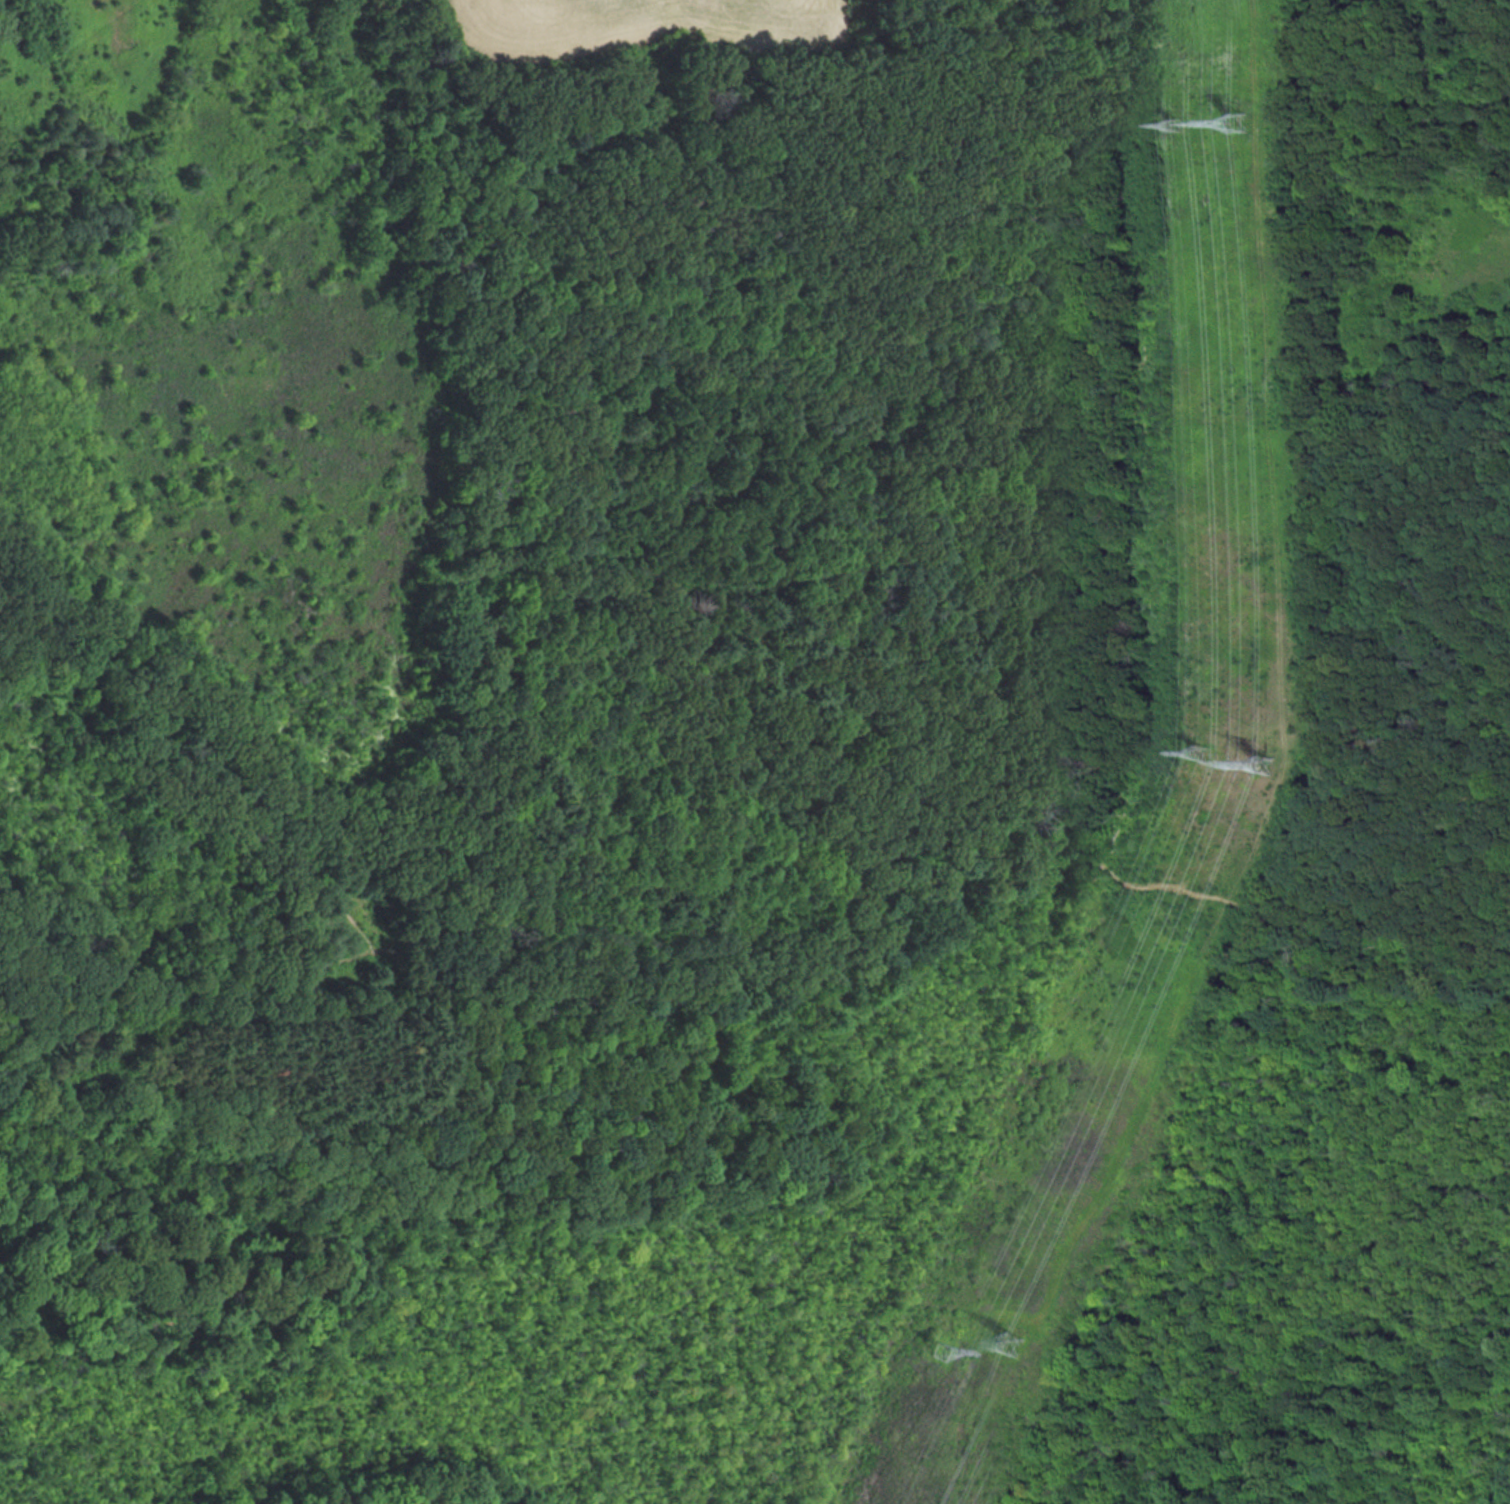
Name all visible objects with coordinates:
crop: (644, 23)
road: (68, 47)
power tower: (1235, 124)
power tower: (1176, 125)
road: (44, 661)
road: (98, 662)
park: (753, 754)
power tower: (1200, 755)
power tower: (1263, 768)
road: (239, 811)
road: (972, 865)
road: (238, 1008)
road: (1126, 1138)
road: (113, 1177)
road: (73, 1272)
road: (26, 1312)
road: (141, 1313)
power tower: (1009, 1344)
power tower: (940, 1349)
road: (219, 1429)

